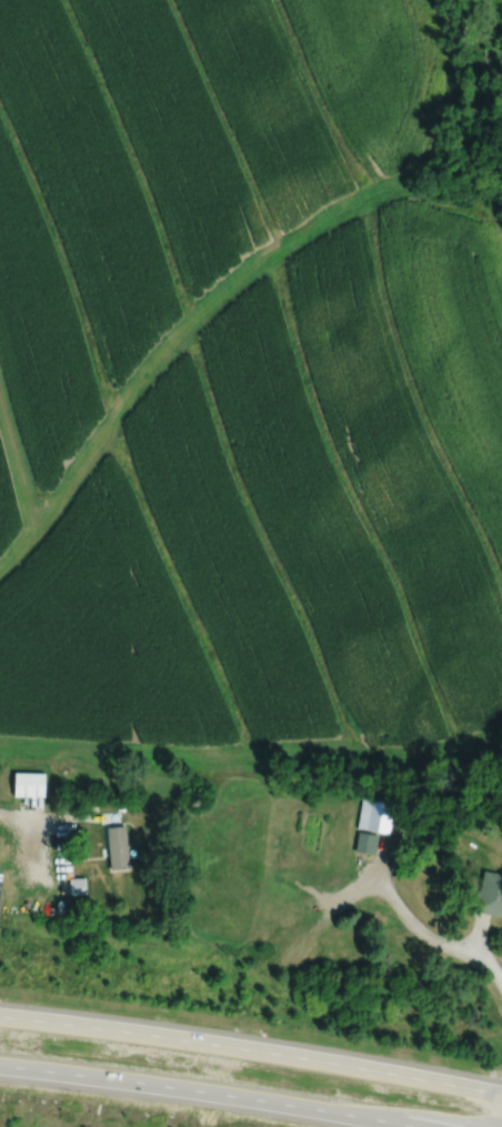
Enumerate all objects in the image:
building: (29, 784)
building: (374, 816)
road: (53, 828)
building: (365, 844)
building: (117, 848)
building: (72, 885)
building: (490, 894)
road: (409, 922)
road: (251, 1048)
road: (209, 1091)

